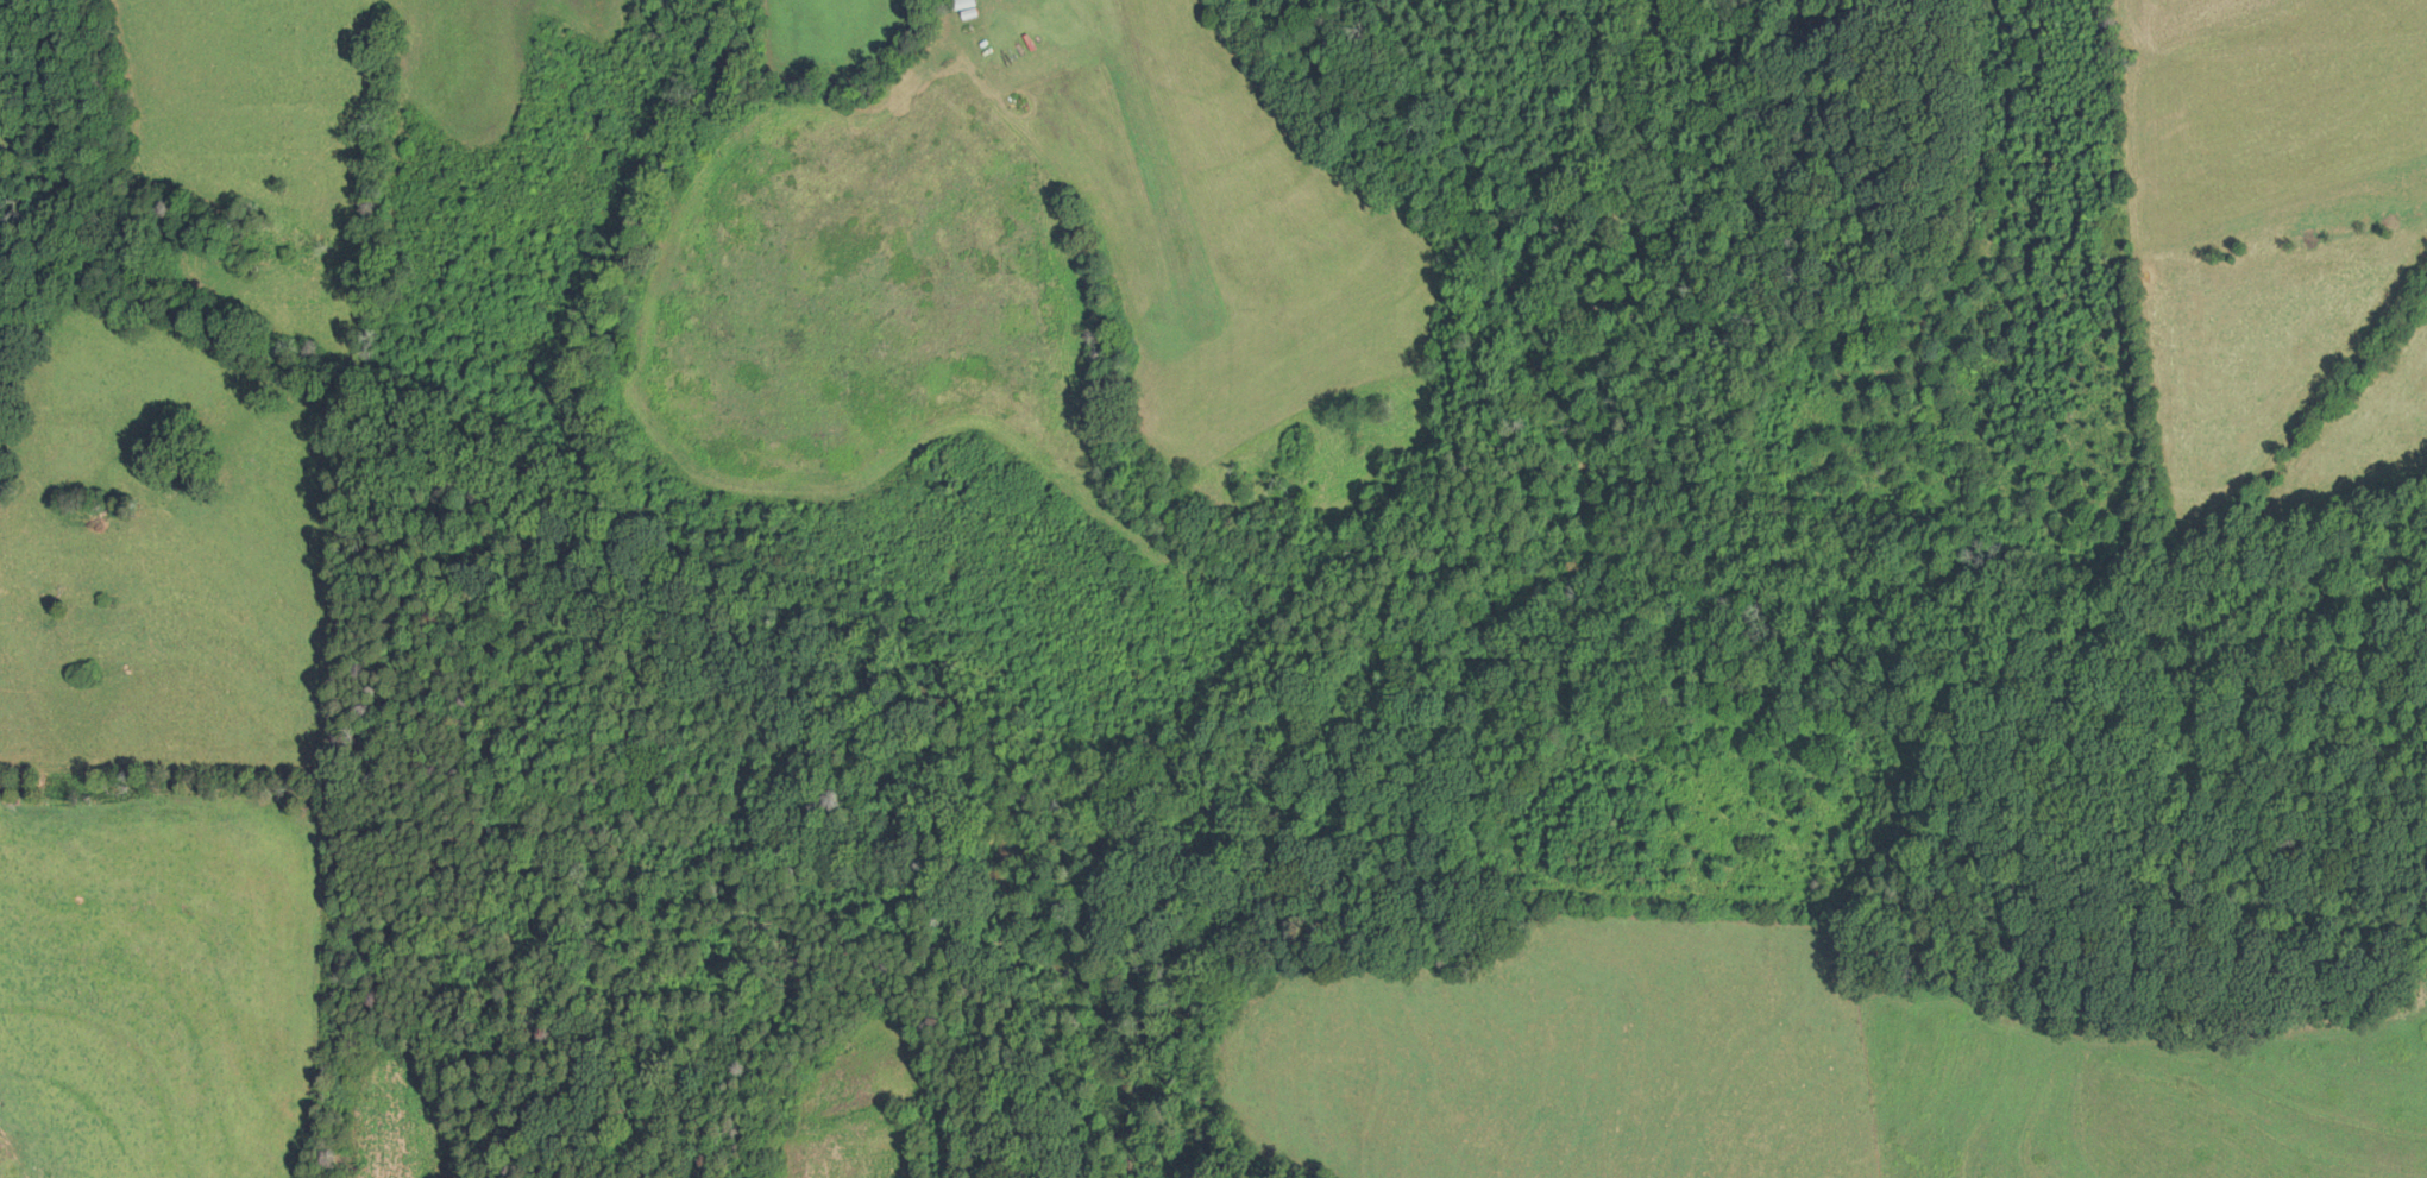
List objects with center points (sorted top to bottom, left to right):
building: (955, 0)
airport runway: (1150, 155)

